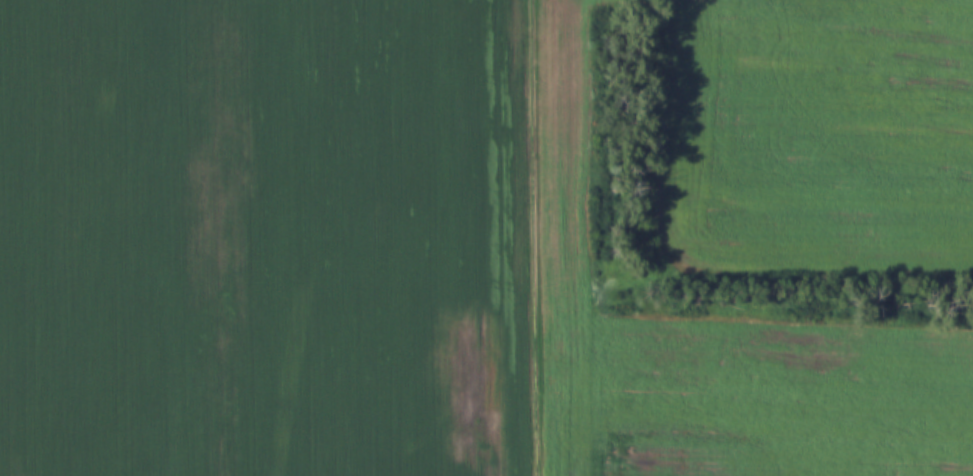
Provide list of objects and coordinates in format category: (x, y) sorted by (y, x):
road: (532, 237)

